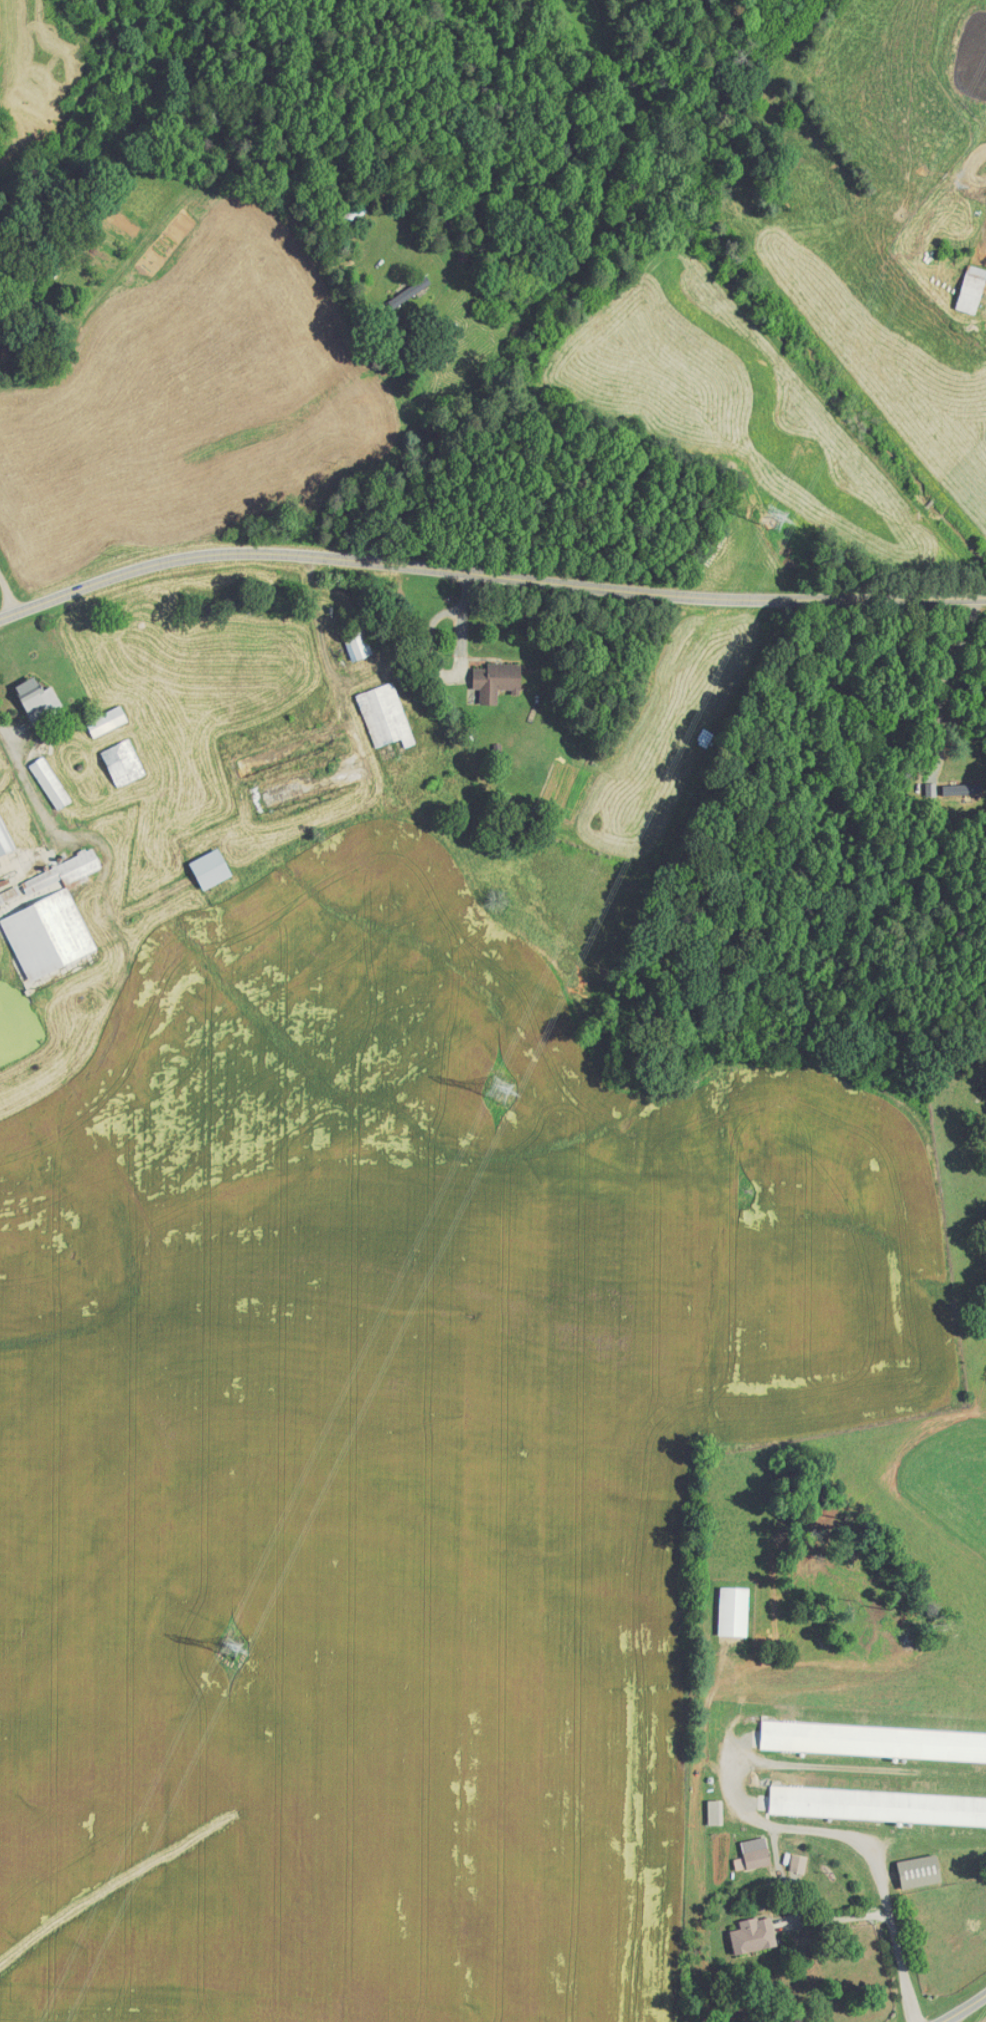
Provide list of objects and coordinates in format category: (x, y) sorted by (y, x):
building: (970, 288)
road: (423, 316)
power tower: (774, 518)
road: (487, 576)
road: (8, 592)
building: (356, 644)
building: (494, 680)
road: (942, 683)
building: (36, 699)
building: (383, 715)
building: (105, 720)
building: (121, 762)
road: (28, 782)
building: (48, 782)
building: (962, 788)
building: (208, 868)
building: (47, 916)
power tower: (498, 1090)
building: (732, 1609)
power tower: (230, 1647)
building: (873, 1740)
building: (877, 1804)
building: (714, 1811)
road: (863, 1843)
building: (752, 1853)
building: (797, 1862)
building: (918, 1870)
building: (752, 1934)
road: (965, 2008)

